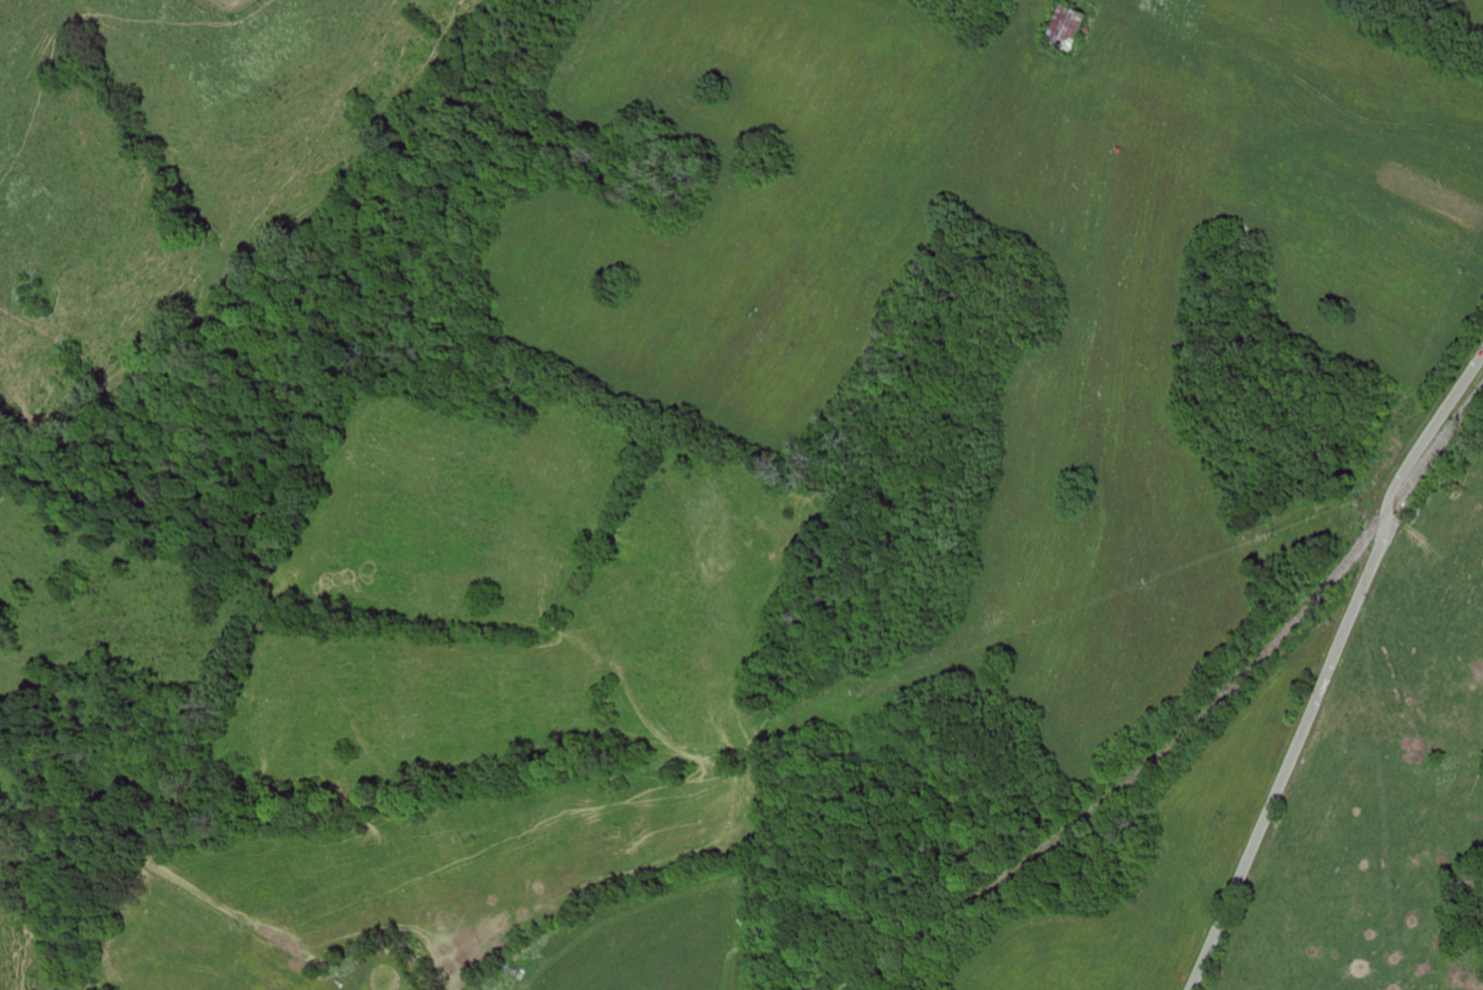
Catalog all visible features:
building: (1061, 28)
road: (1330, 668)
railway: (1200, 715)
building: (752, 969)

